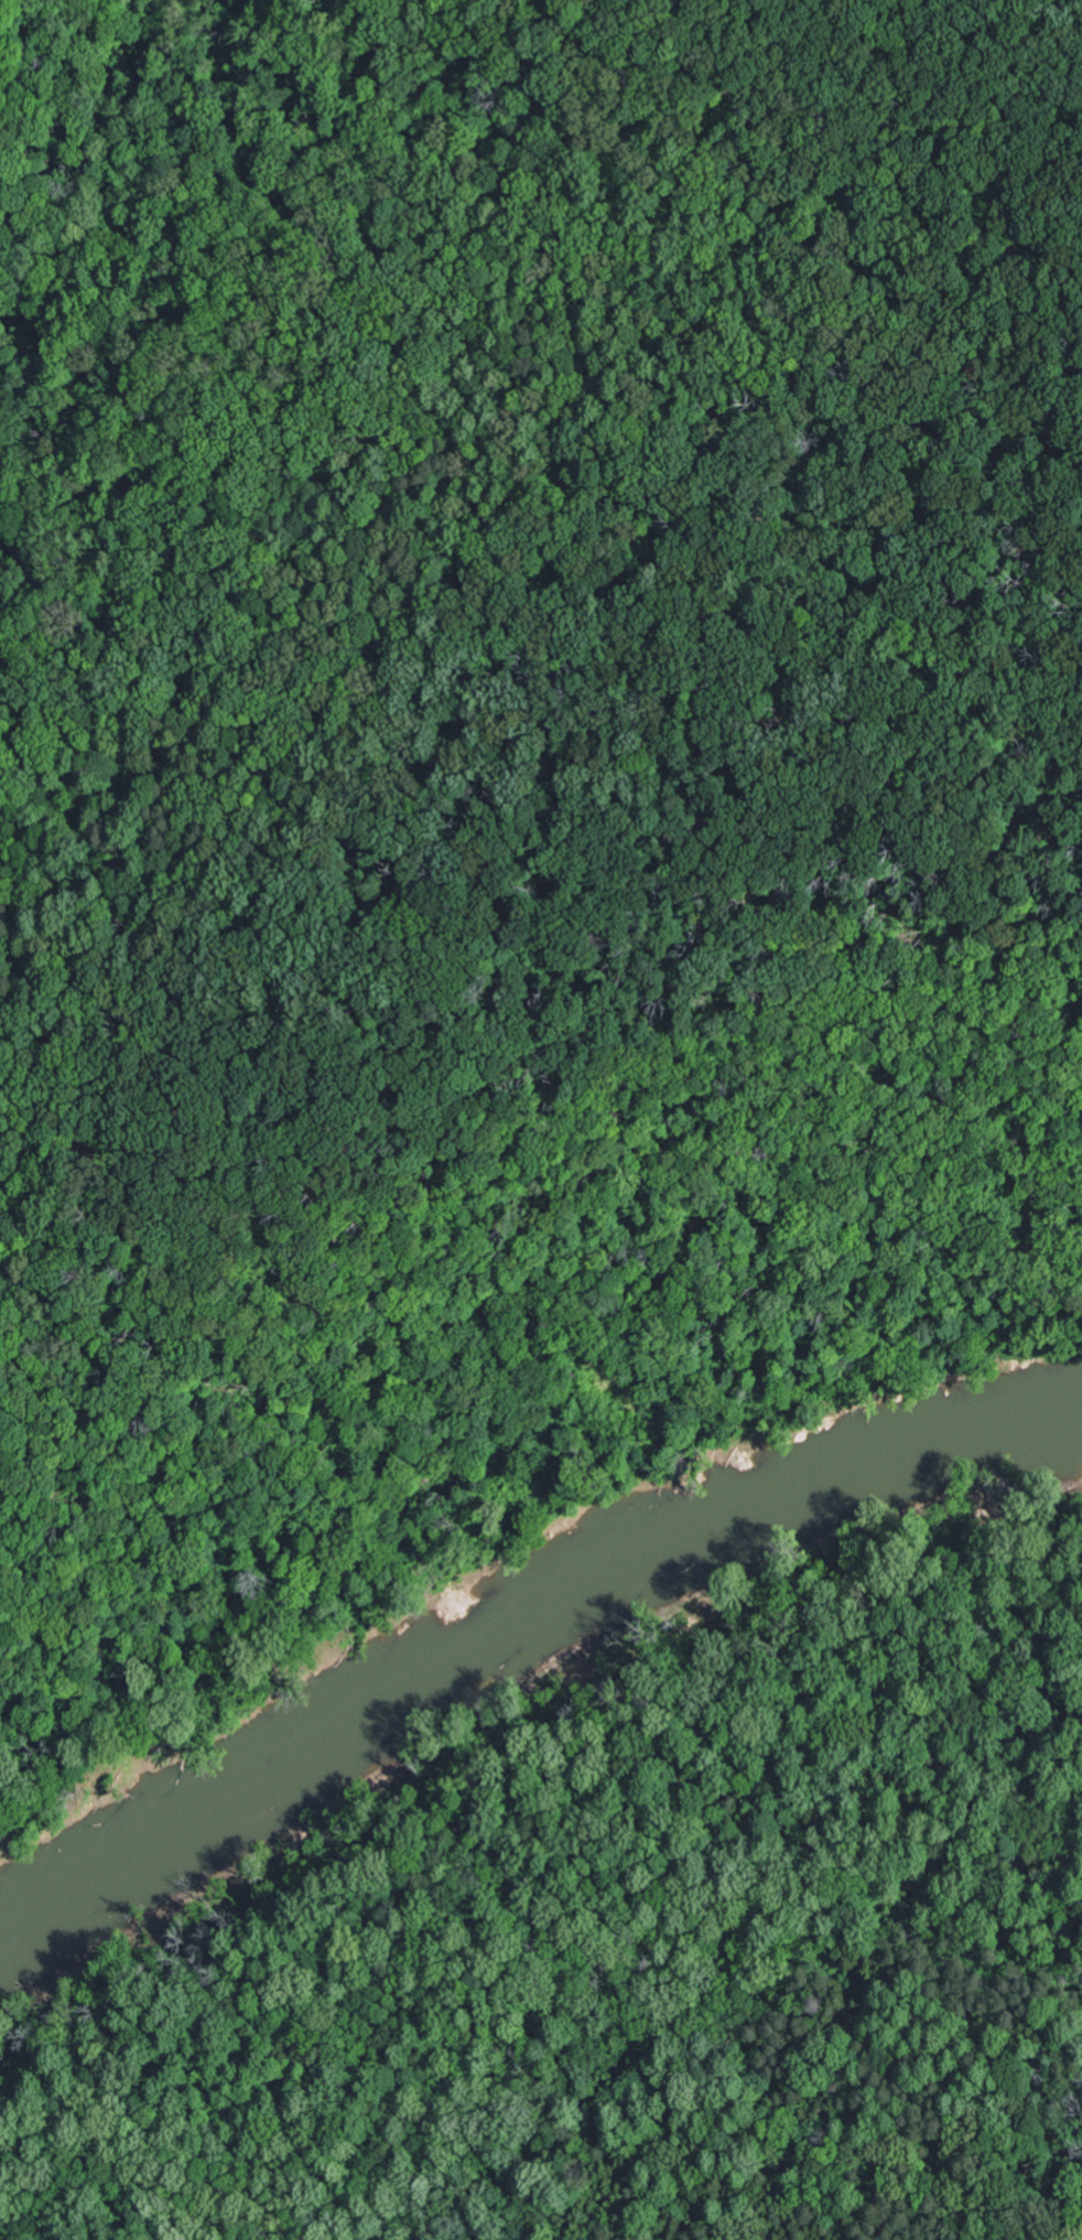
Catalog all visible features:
road: (57, 309)
road: (570, 1069)
river: (516, 1622)

